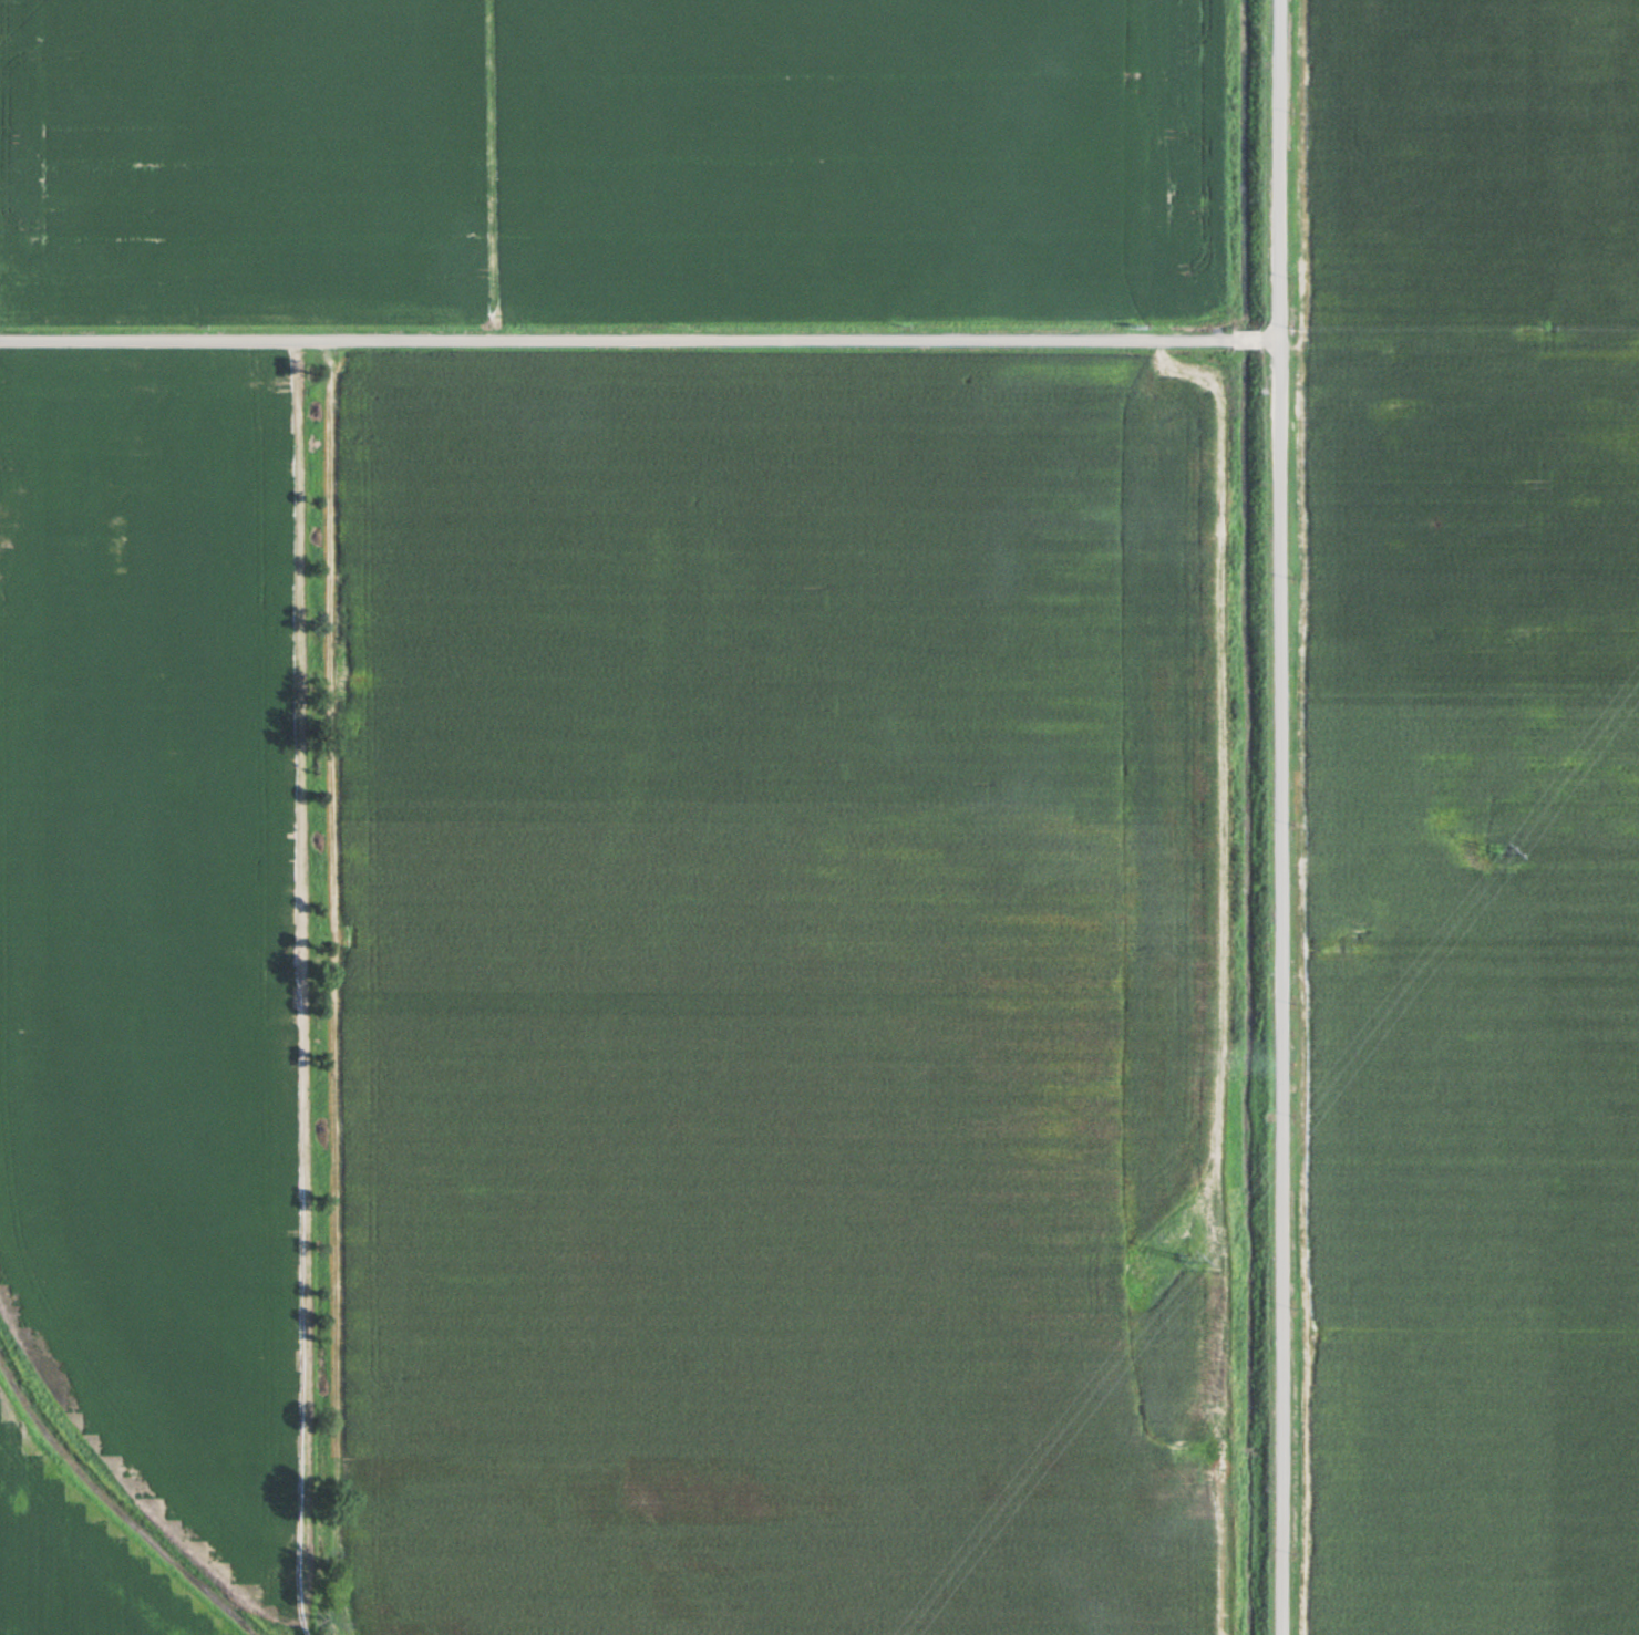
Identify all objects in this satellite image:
road: (639, 340)
road: (1279, 817)
power tower: (1491, 845)
power tower: (1173, 1256)

